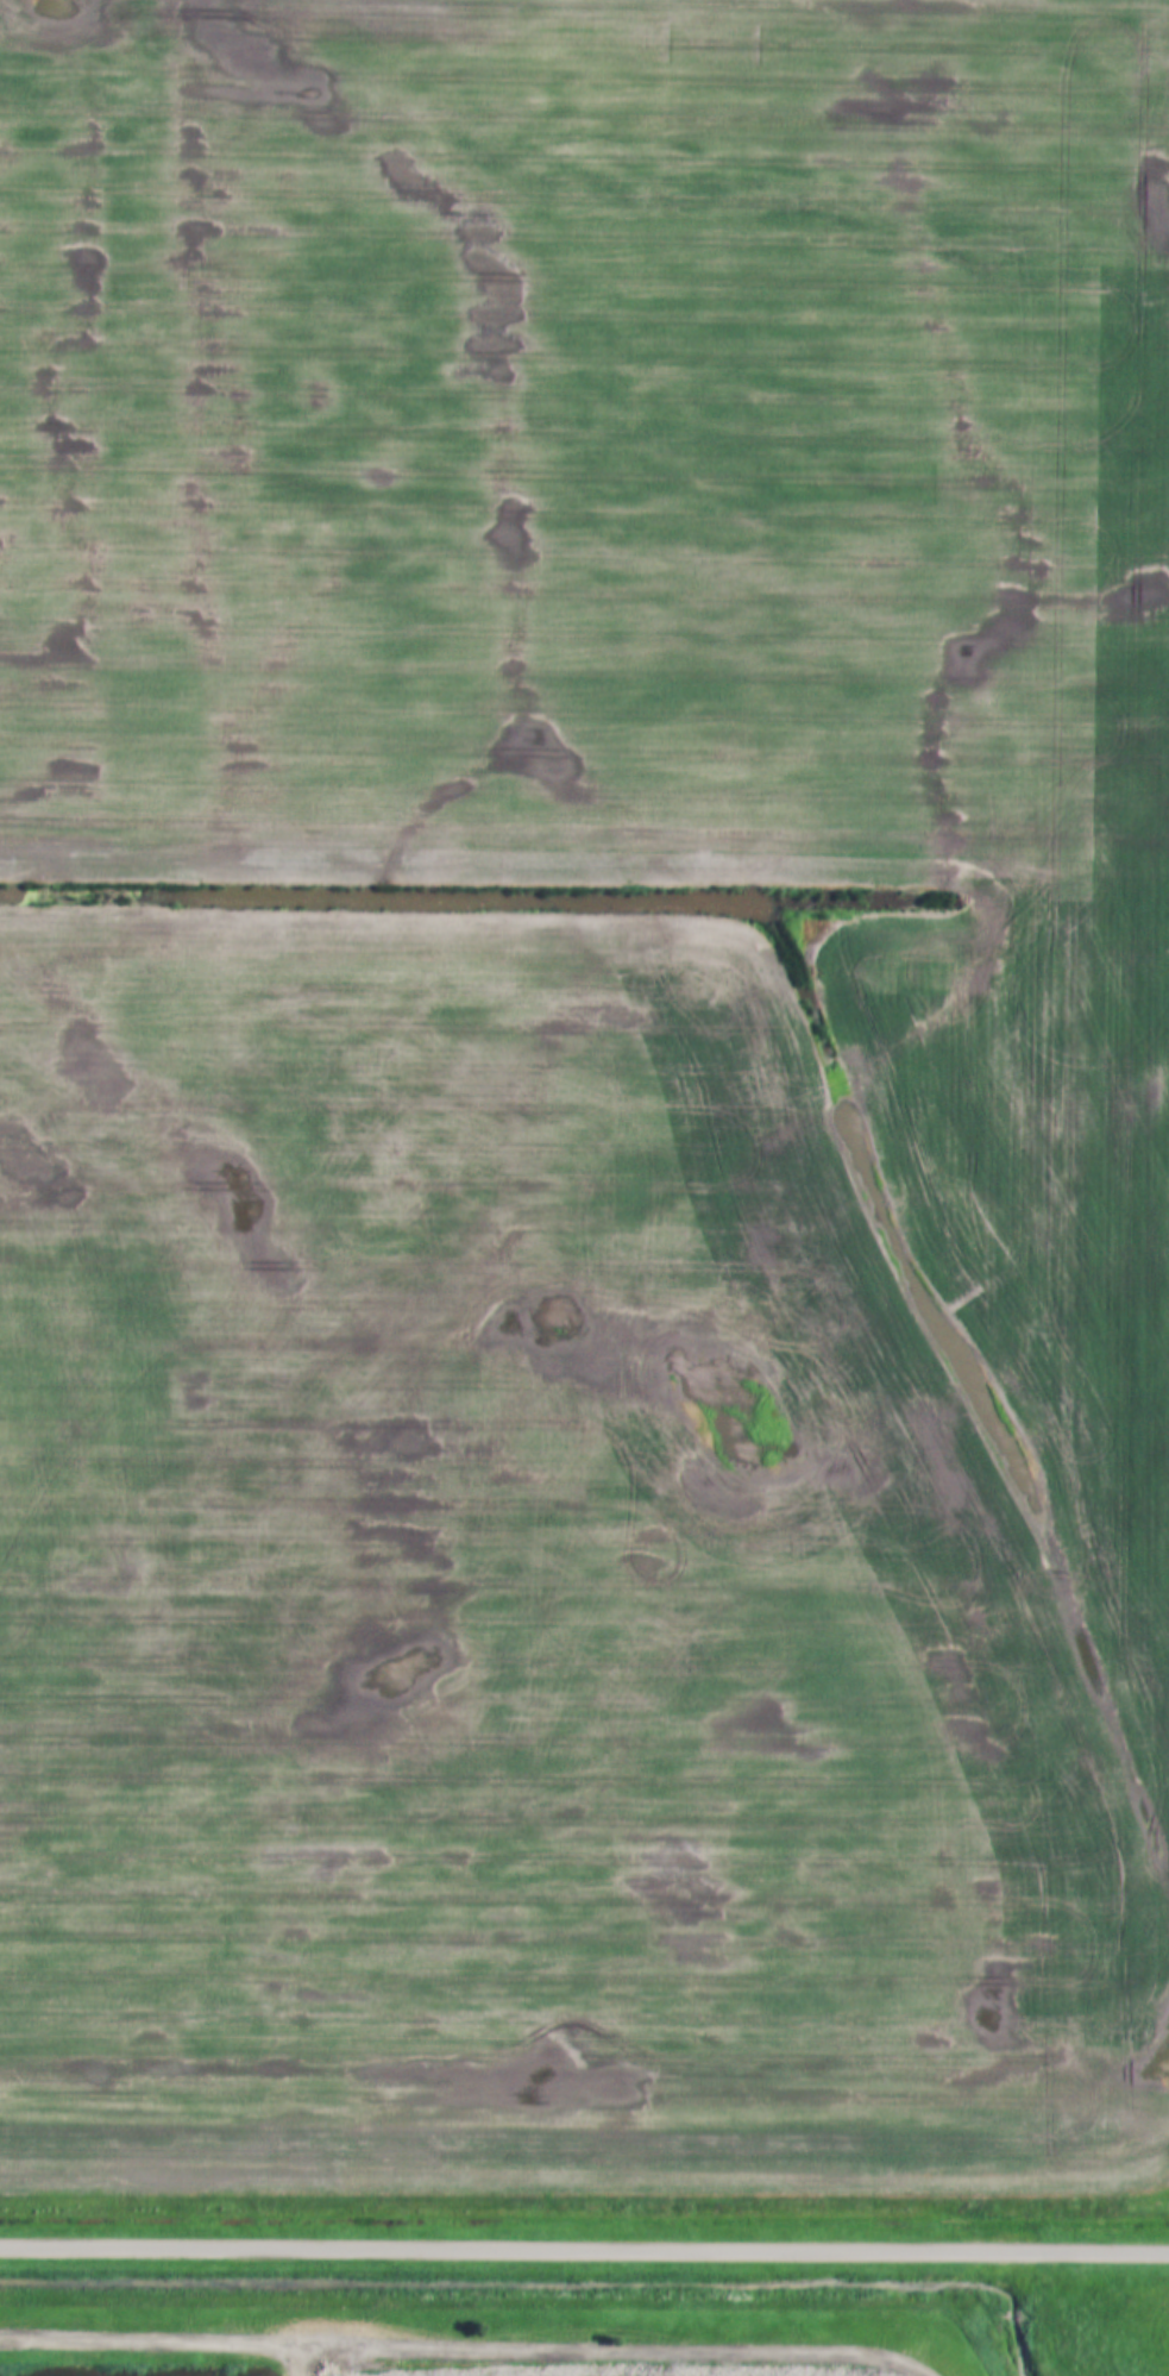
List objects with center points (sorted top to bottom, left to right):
road: (584, 2252)

